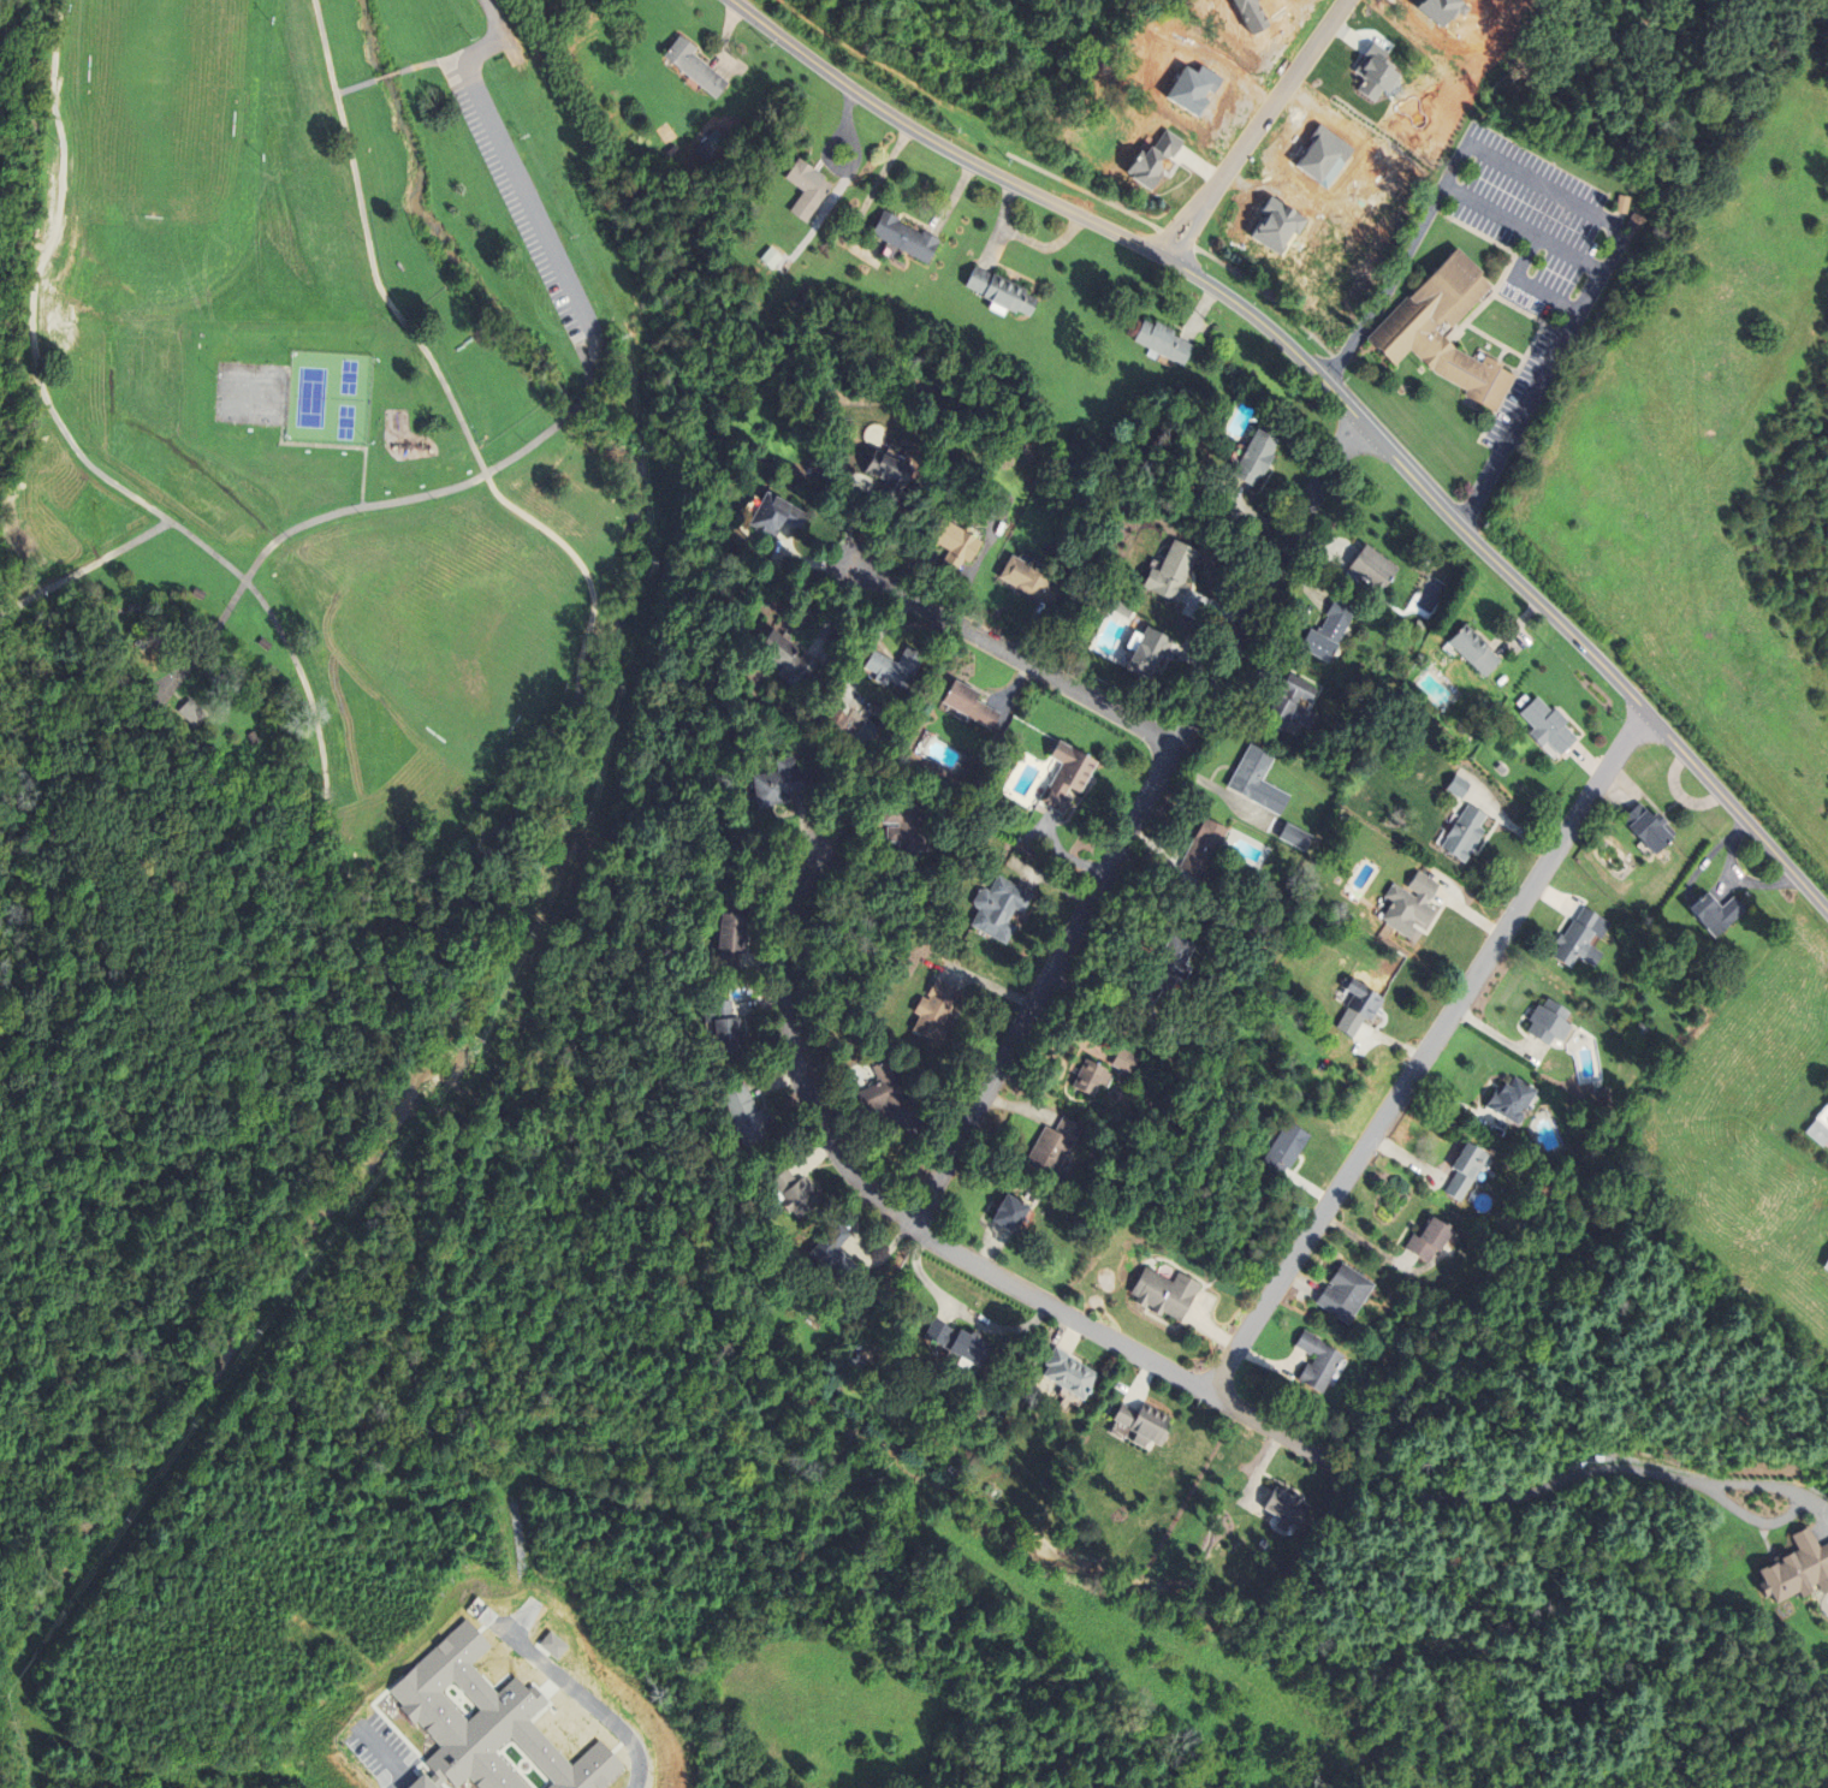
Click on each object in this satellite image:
road: (434, 64)
building: (695, 67)
road: (387, 78)
road: (358, 89)
park: (162, 108)
road: (1257, 130)
road: (505, 159)
road: (1022, 188)
building: (808, 189)
parking lot: (517, 197)
road: (1567, 200)
road: (1523, 228)
building: (906, 239)
building: (1003, 292)
building: (1442, 331)
building: (1165, 343)
park: (251, 394)
park: (330, 399)
building: (1257, 459)
road: (1396, 459)
building: (890, 479)
park: (354, 487)
building: (1004, 501)
road: (385, 504)
building: (777, 517)
building: (955, 541)
road: (87, 570)
building: (1376, 571)
building: (1174, 575)
building: (1034, 583)
building: (198, 595)
building: (133, 608)
building: (1331, 631)
building: (265, 646)
building: (1476, 652)
building: (1150, 653)
road: (1013, 654)
building: (789, 661)
building: (896, 669)
building: (969, 705)
building: (1292, 706)
road: (1645, 713)
building: (191, 714)
building: (1549, 727)
building: (254, 739)
building: (1068, 778)
building: (1258, 783)
building: (783, 785)
building: (1460, 788)
road: (1130, 820)
building: (1643, 826)
building: (1466, 836)
building: (904, 838)
building: (1296, 838)
building: (1205, 851)
road: (403, 884)
road: (1817, 901)
building: (1412, 905)
building: (1001, 909)
building: (1714, 913)
building: (734, 937)
building: (1578, 938)
building: (1167, 972)
building: (1360, 1009)
building: (937, 1012)
building: (1545, 1022)
building: (724, 1028)
building: (1175, 1034)
road: (1425, 1052)
road: (795, 1057)
building: (1126, 1063)
building: (1091, 1079)
building: (882, 1100)
building: (1509, 1100)
building: (747, 1118)
building: (1820, 1128)
building: (1055, 1150)
building: (1287, 1151)
building: (1461, 1170)
building: (796, 1195)
building: (1013, 1217)
building: (1424, 1240)
building: (833, 1263)
building: (1826, 1265)
building: (1341, 1294)
building: (1167, 1295)
road: (1058, 1311)
building: (960, 1346)
building: (1313, 1361)
building: (1070, 1376)
building: (1144, 1426)
road: (1264, 1426)
road: (1571, 1474)
building: (1283, 1508)
road: (1827, 1515)
road: (1751, 1520)
road: (1822, 1532)
building: (1794, 1569)
road: (609, 1703)
building: (488, 1725)
road: (386, 1756)

